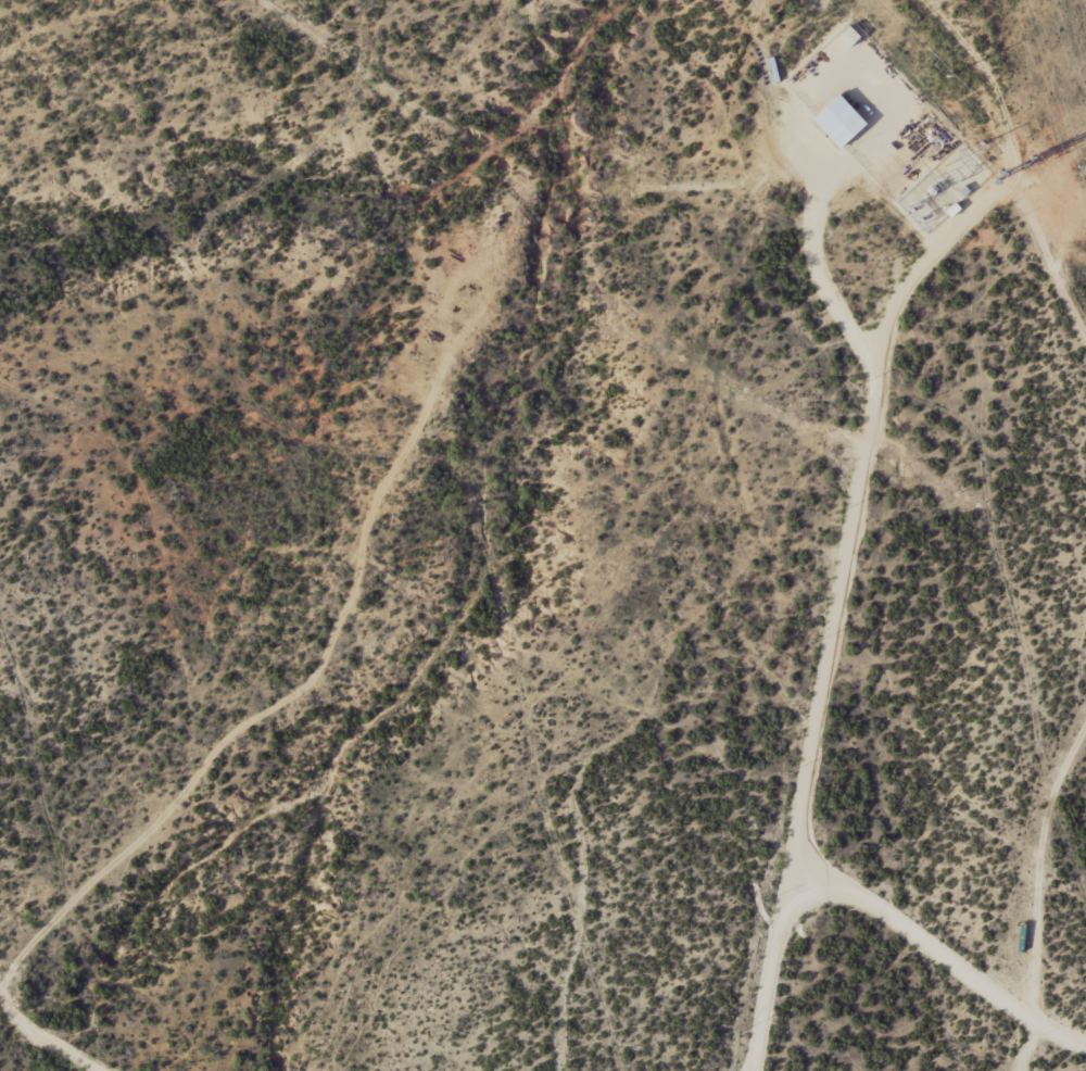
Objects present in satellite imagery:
power tower: (955, 77)
building: (841, 122)
power tower: (983, 144)
road: (1025, 156)
power tower: (1035, 163)
power tower: (1001, 177)
power substation: (949, 189)
road: (1041, 878)
road: (27, 1017)

